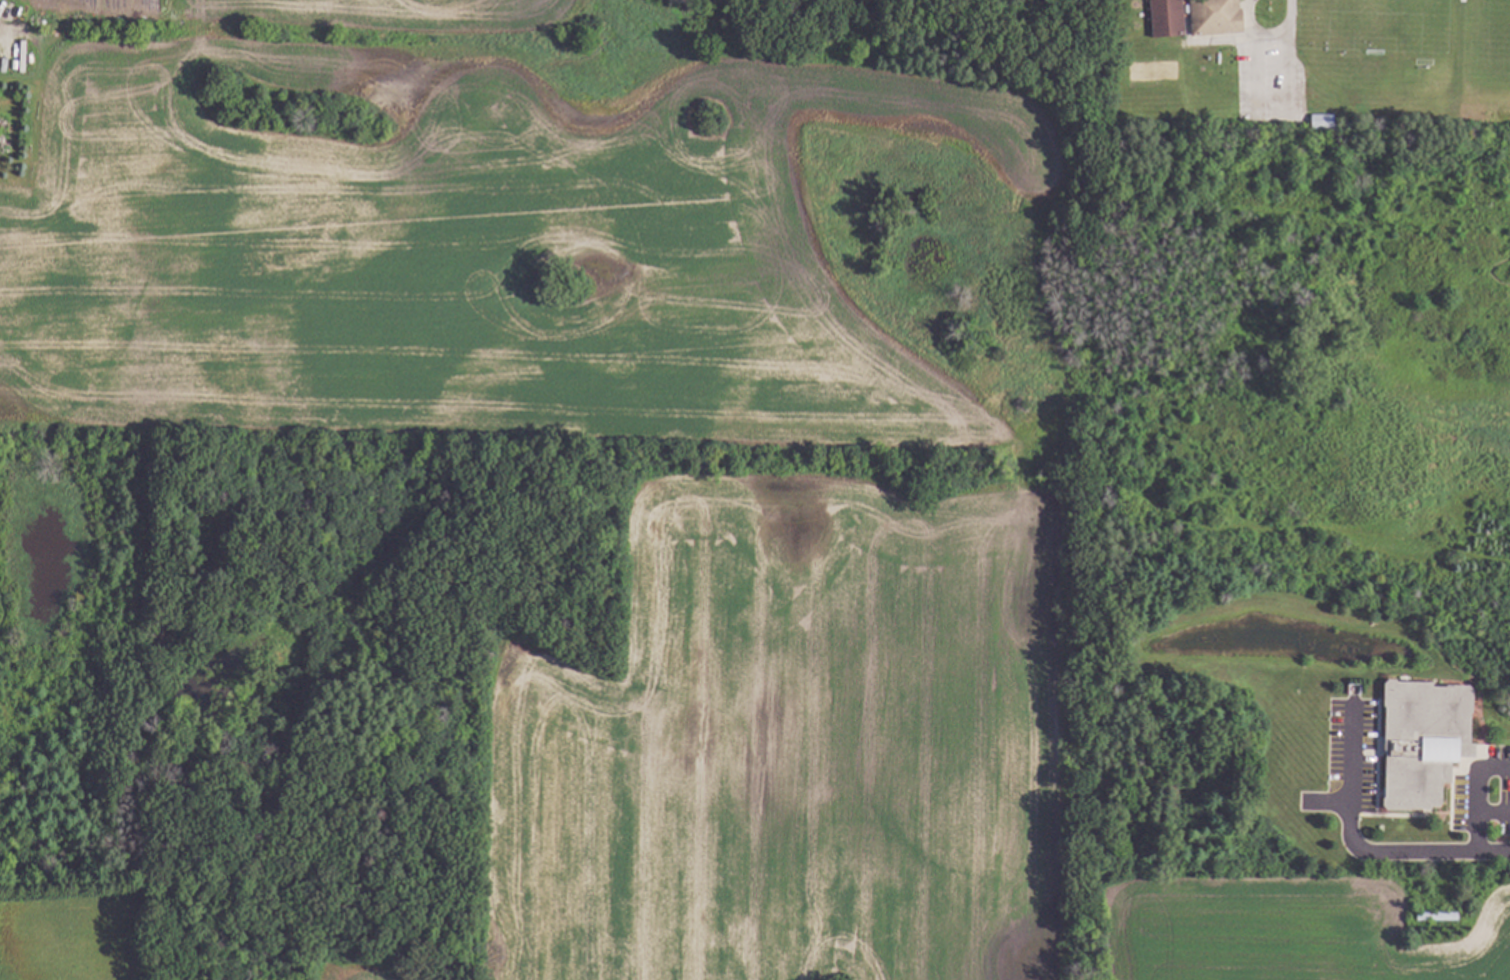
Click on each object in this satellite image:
building: (1217, 16)
building: (1168, 17)
road: (1289, 18)
park: (1386, 26)
park: (1498, 32)
park: (1154, 75)
parking lot: (1264, 86)
building: (1328, 122)
crop: (647, 483)
building: (1425, 739)
road: (1476, 797)
road: (1392, 855)
building: (1439, 915)
crop: (73, 929)

